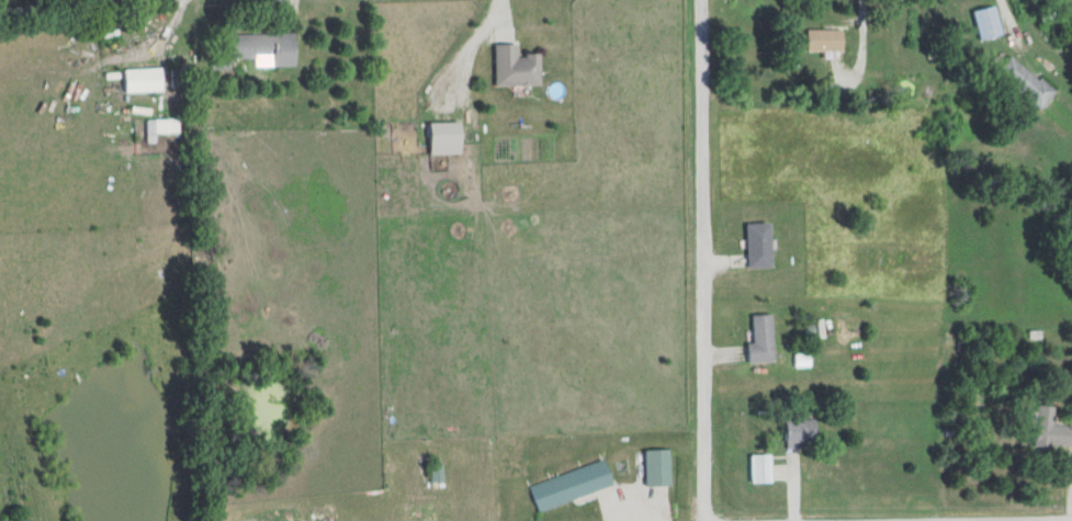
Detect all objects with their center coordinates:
building: (985, 24)
building: (826, 41)
building: (264, 49)
building: (519, 68)
building: (177, 79)
building: (143, 80)
building: (1025, 83)
building: (162, 126)
building: (448, 138)
building: (759, 246)
road: (703, 260)
building: (761, 340)
building: (1049, 428)
building: (800, 433)
building: (659, 468)
building: (760, 468)
building: (437, 474)
building: (573, 486)

